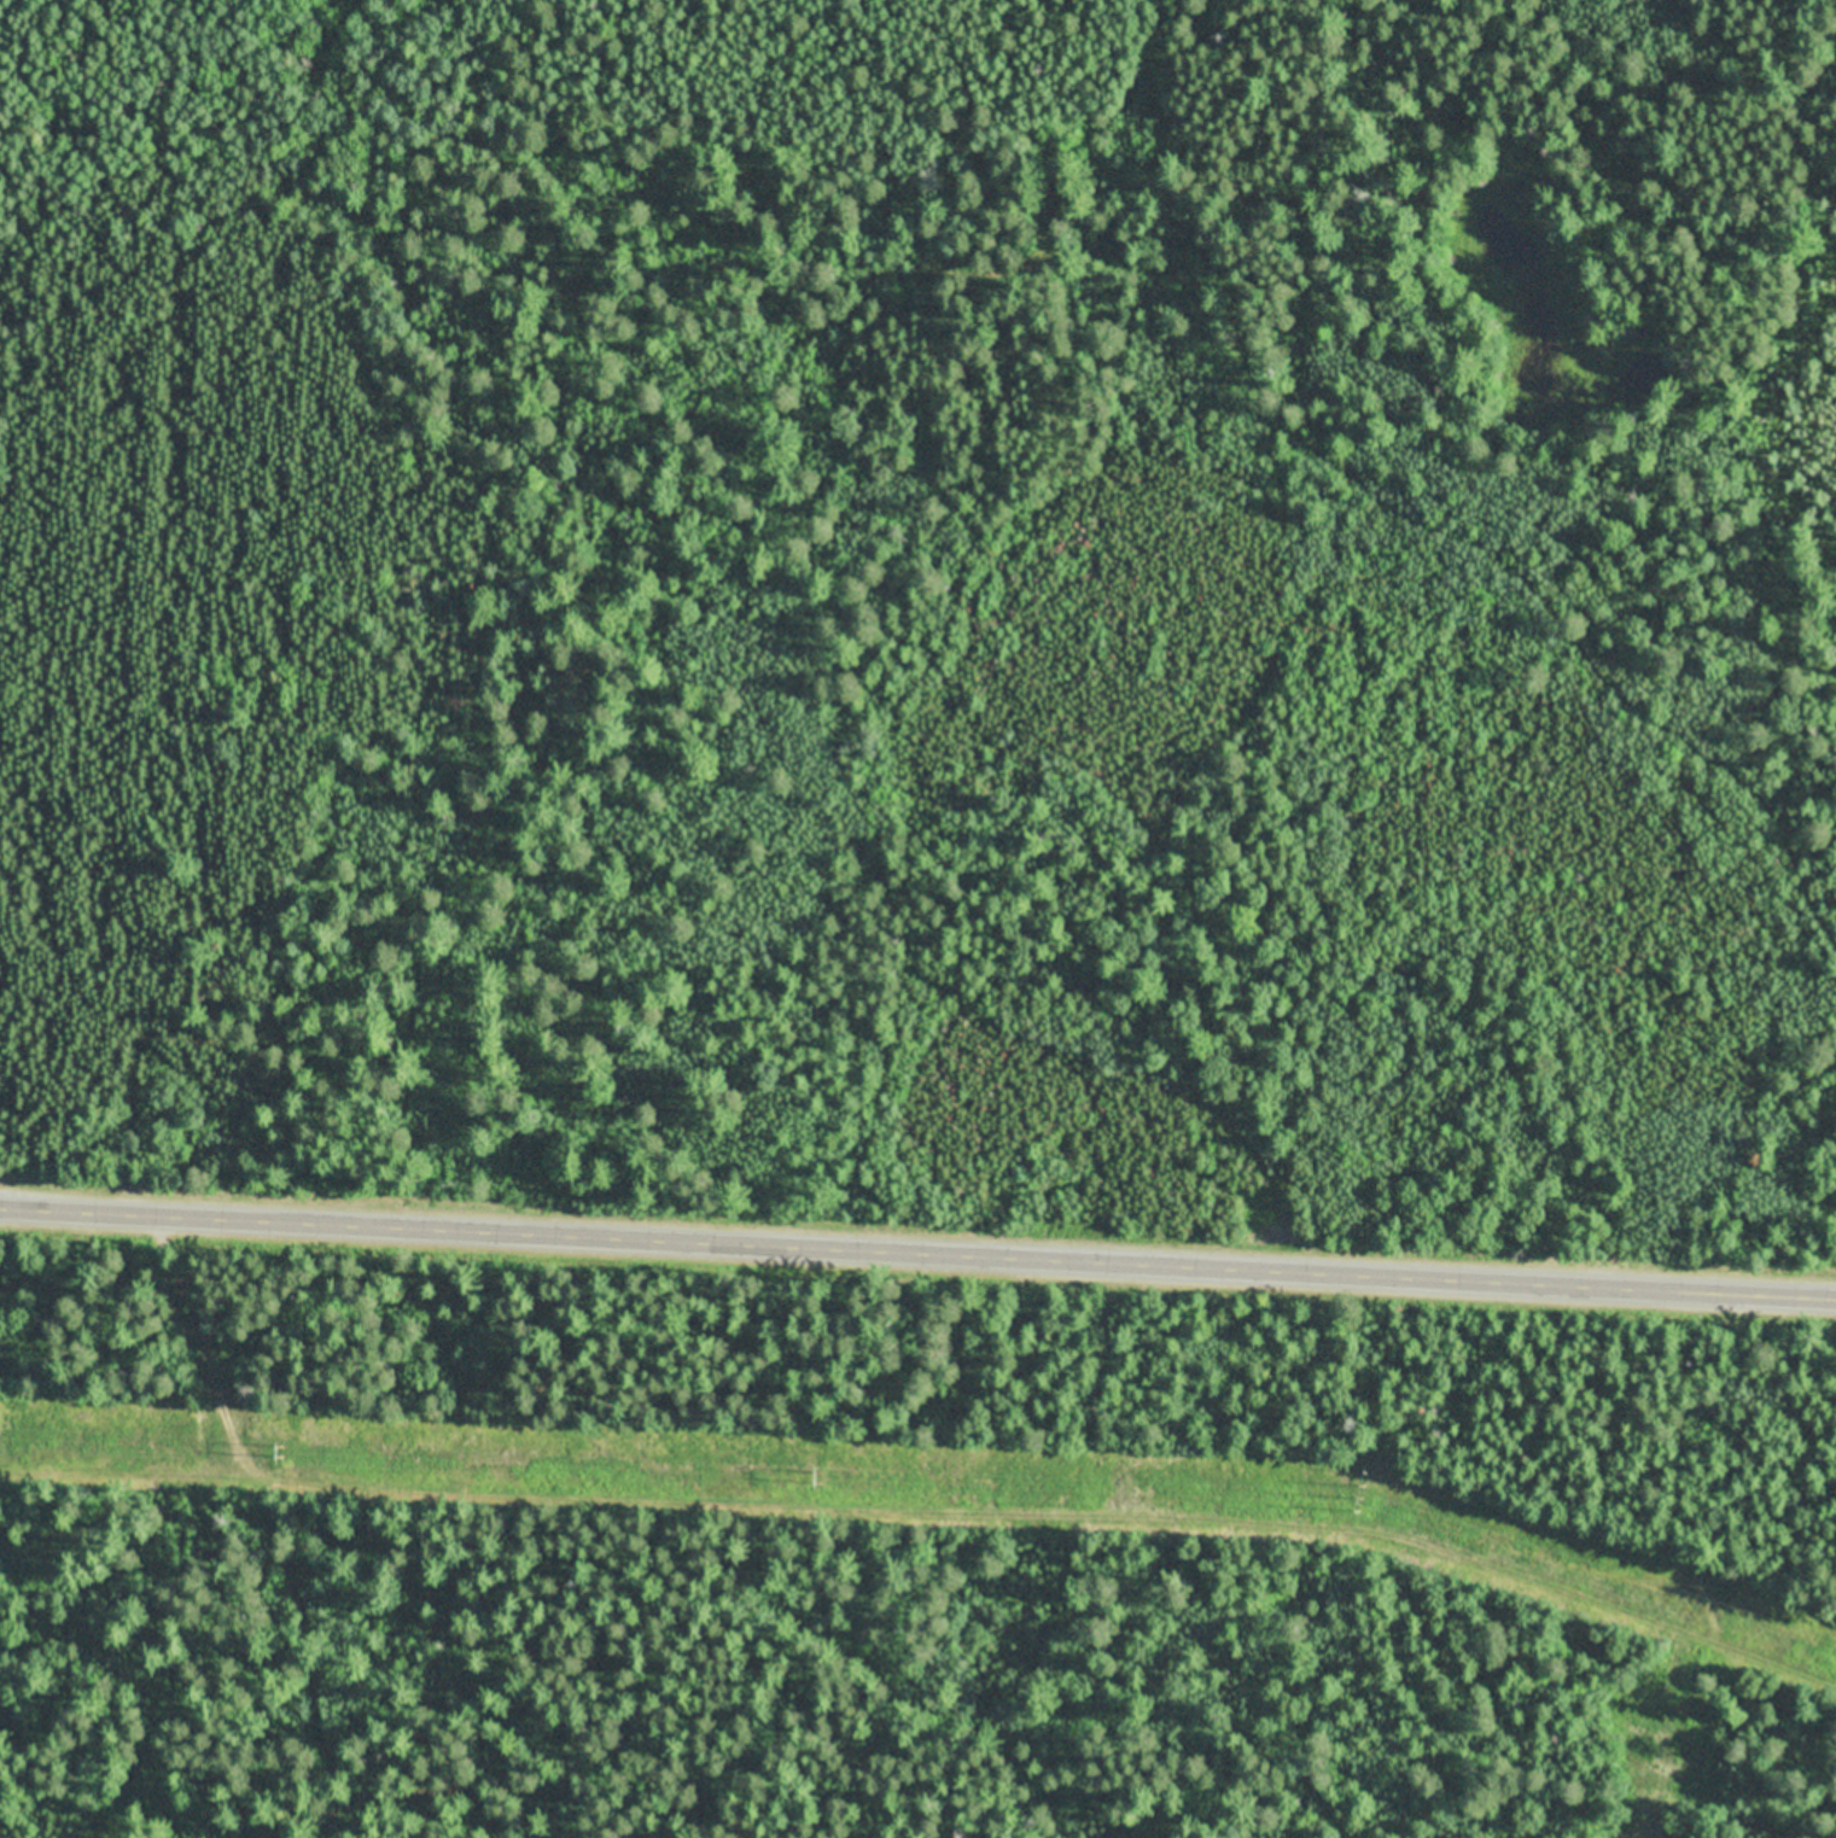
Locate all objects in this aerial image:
road: (917, 1251)

